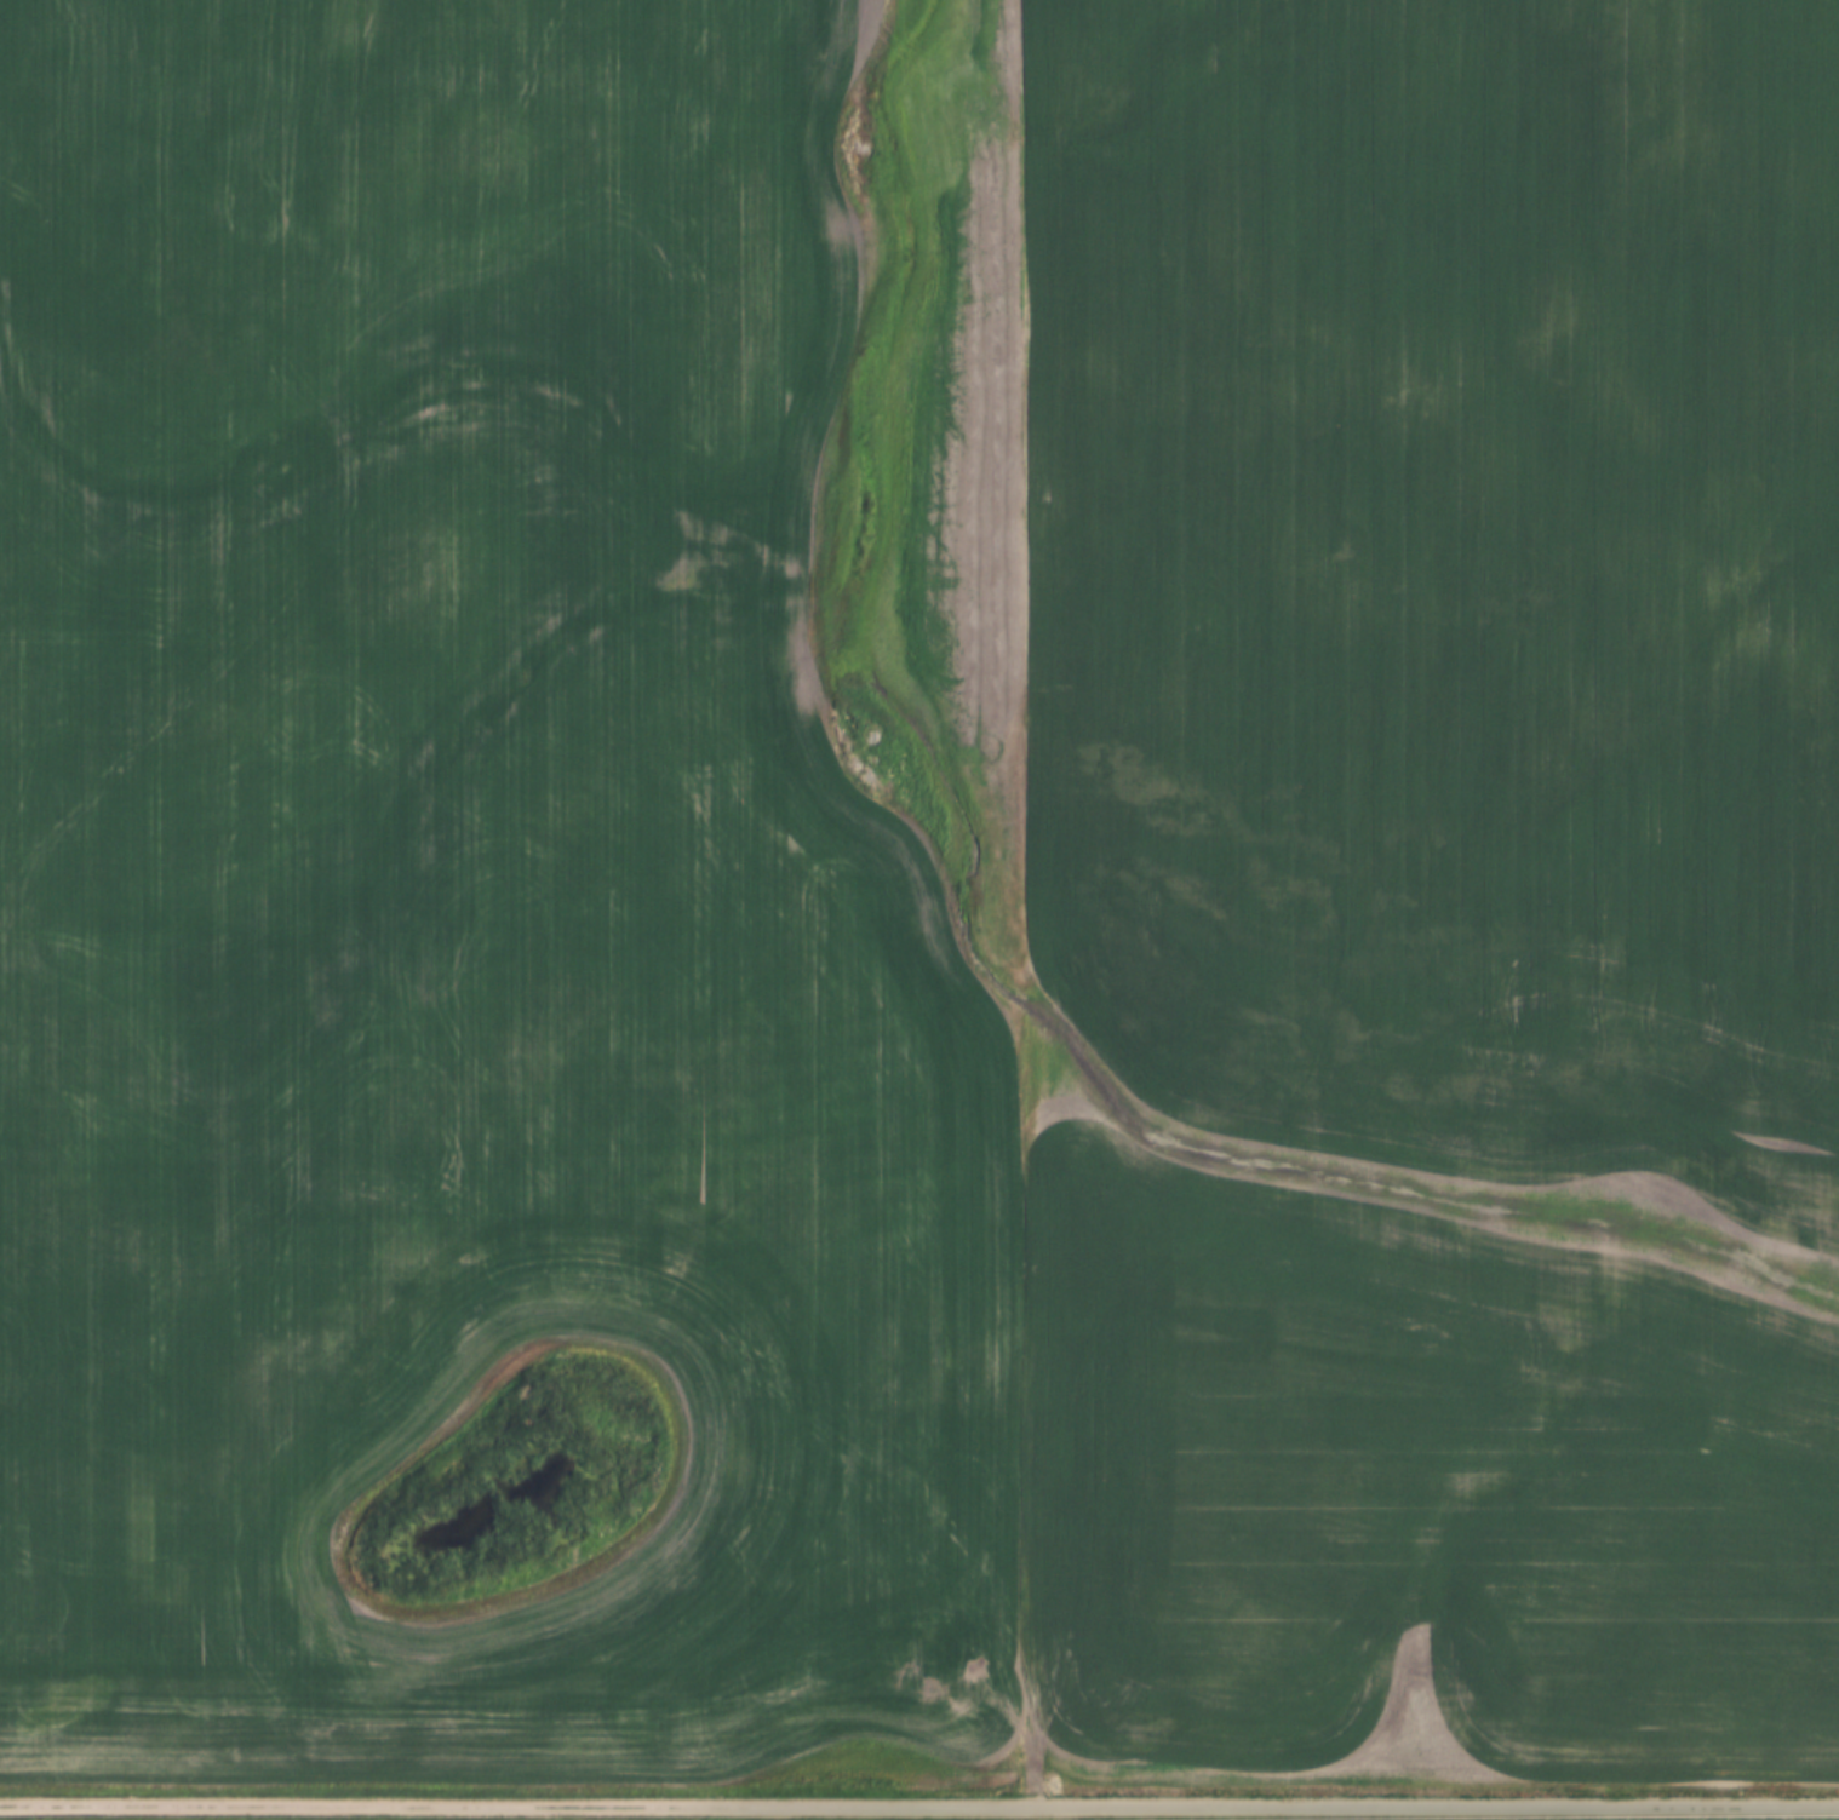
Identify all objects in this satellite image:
road: (919, 1809)

